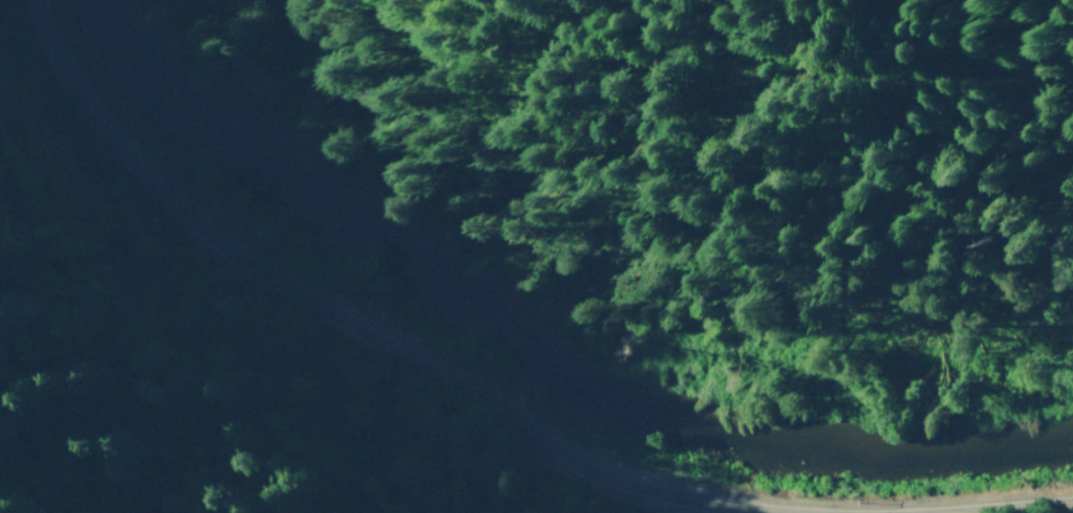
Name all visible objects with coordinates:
road: (354, 333)
road: (1051, 511)

